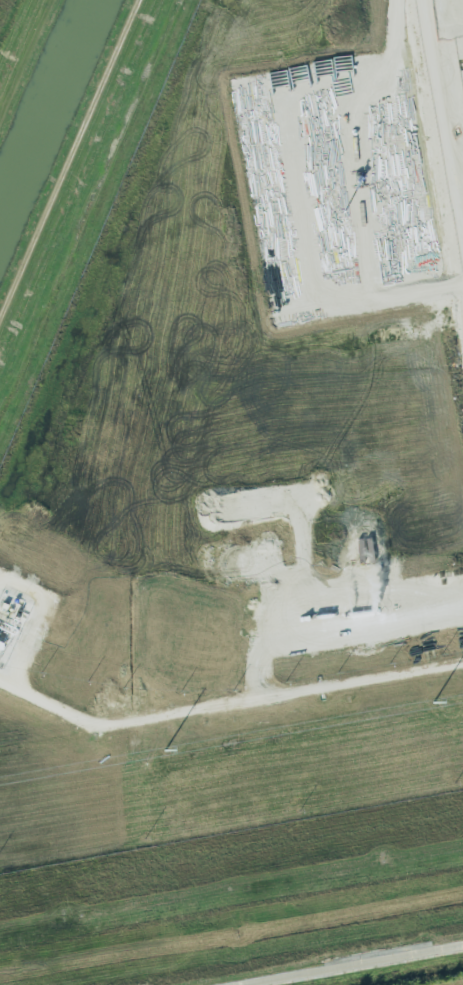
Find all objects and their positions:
road: (282, 696)
road: (358, 966)

